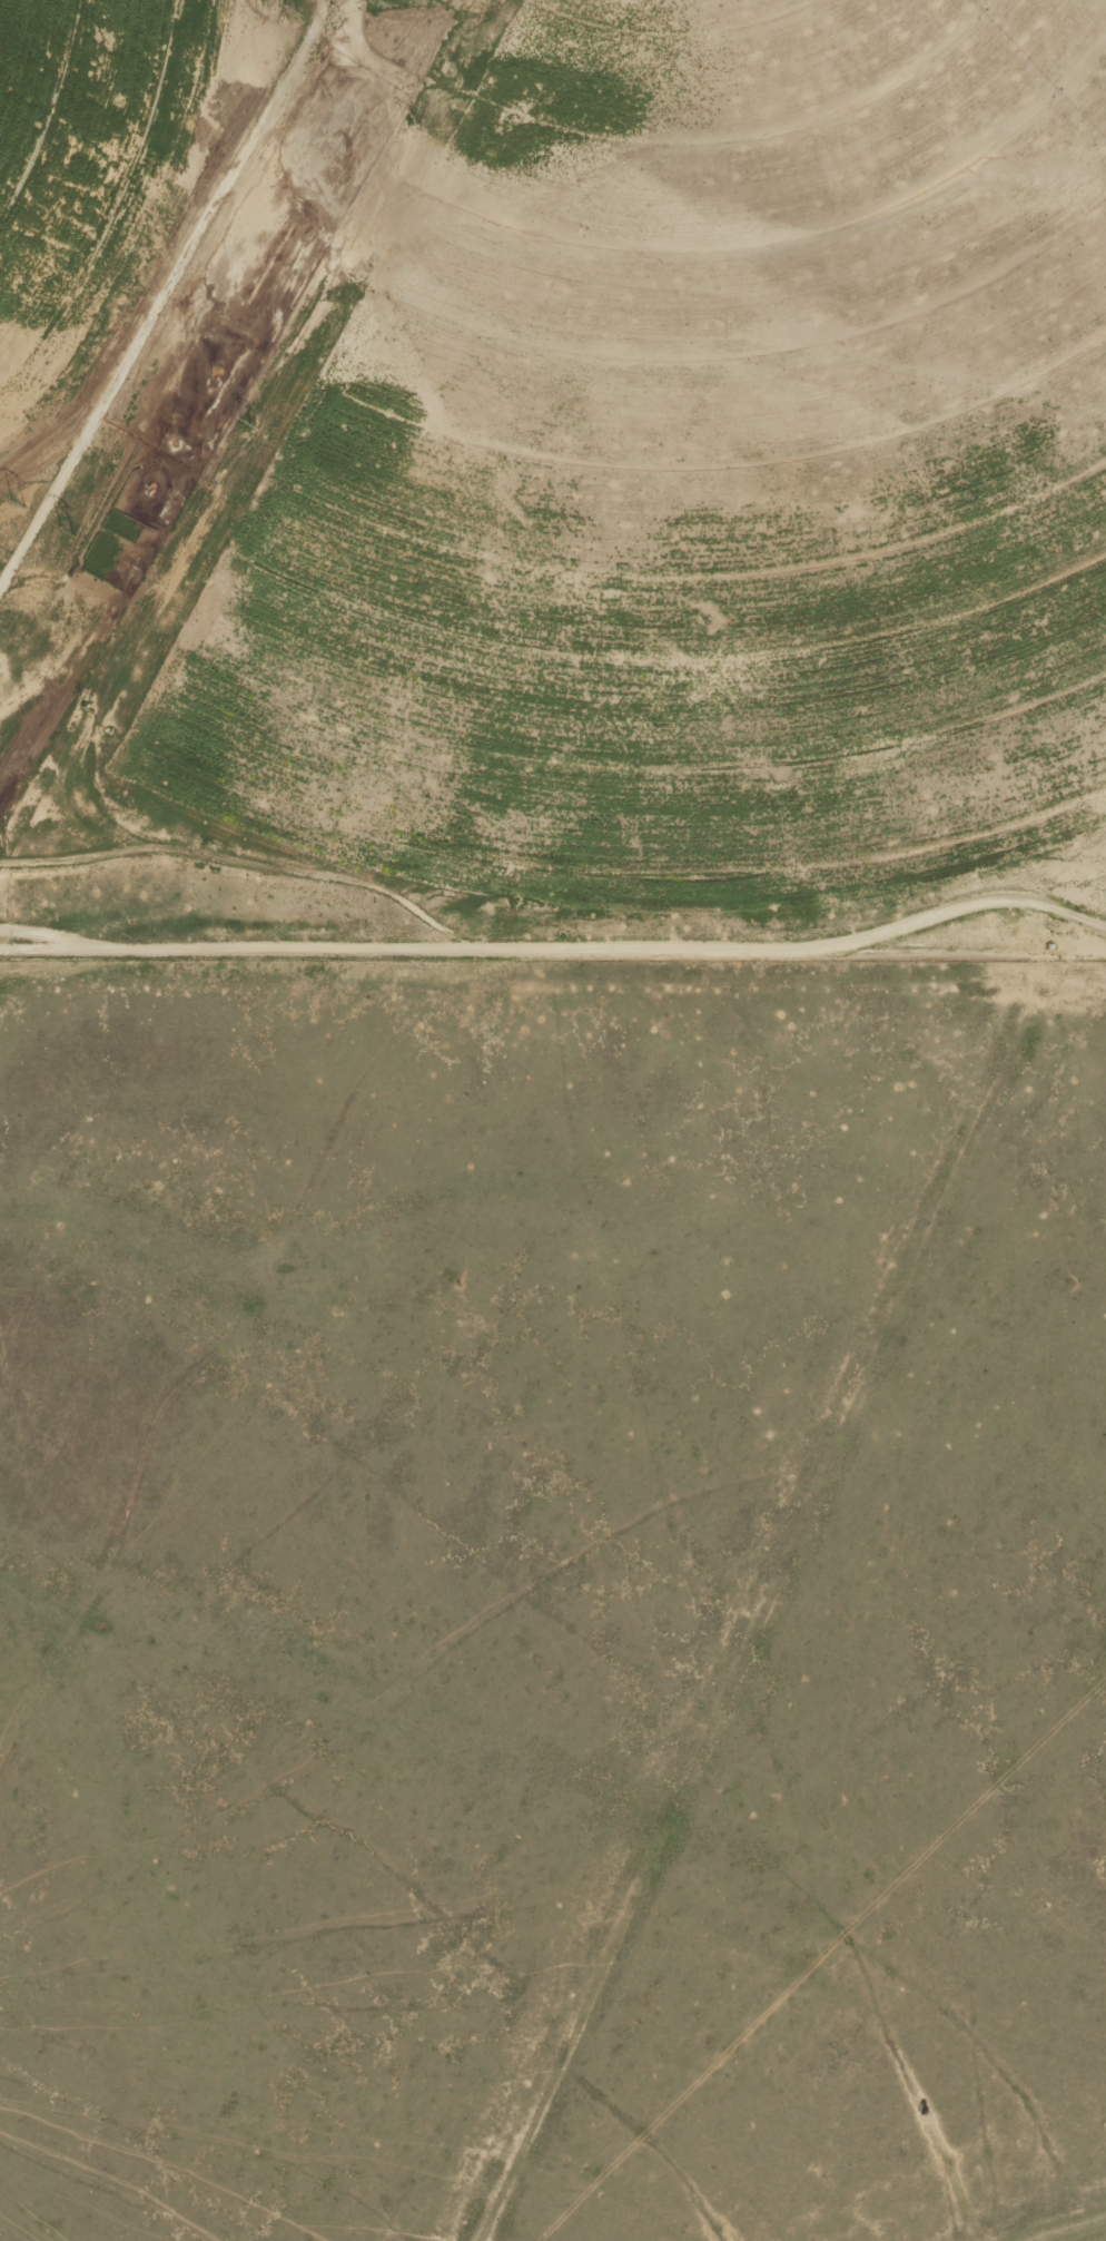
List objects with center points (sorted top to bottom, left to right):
power tower: (290, 7)
power tower: (339, 30)
power tower: (407, 124)
power tower: (19, 501)
power tower: (67, 531)
power tower: (83, 707)
road: (414, 923)

